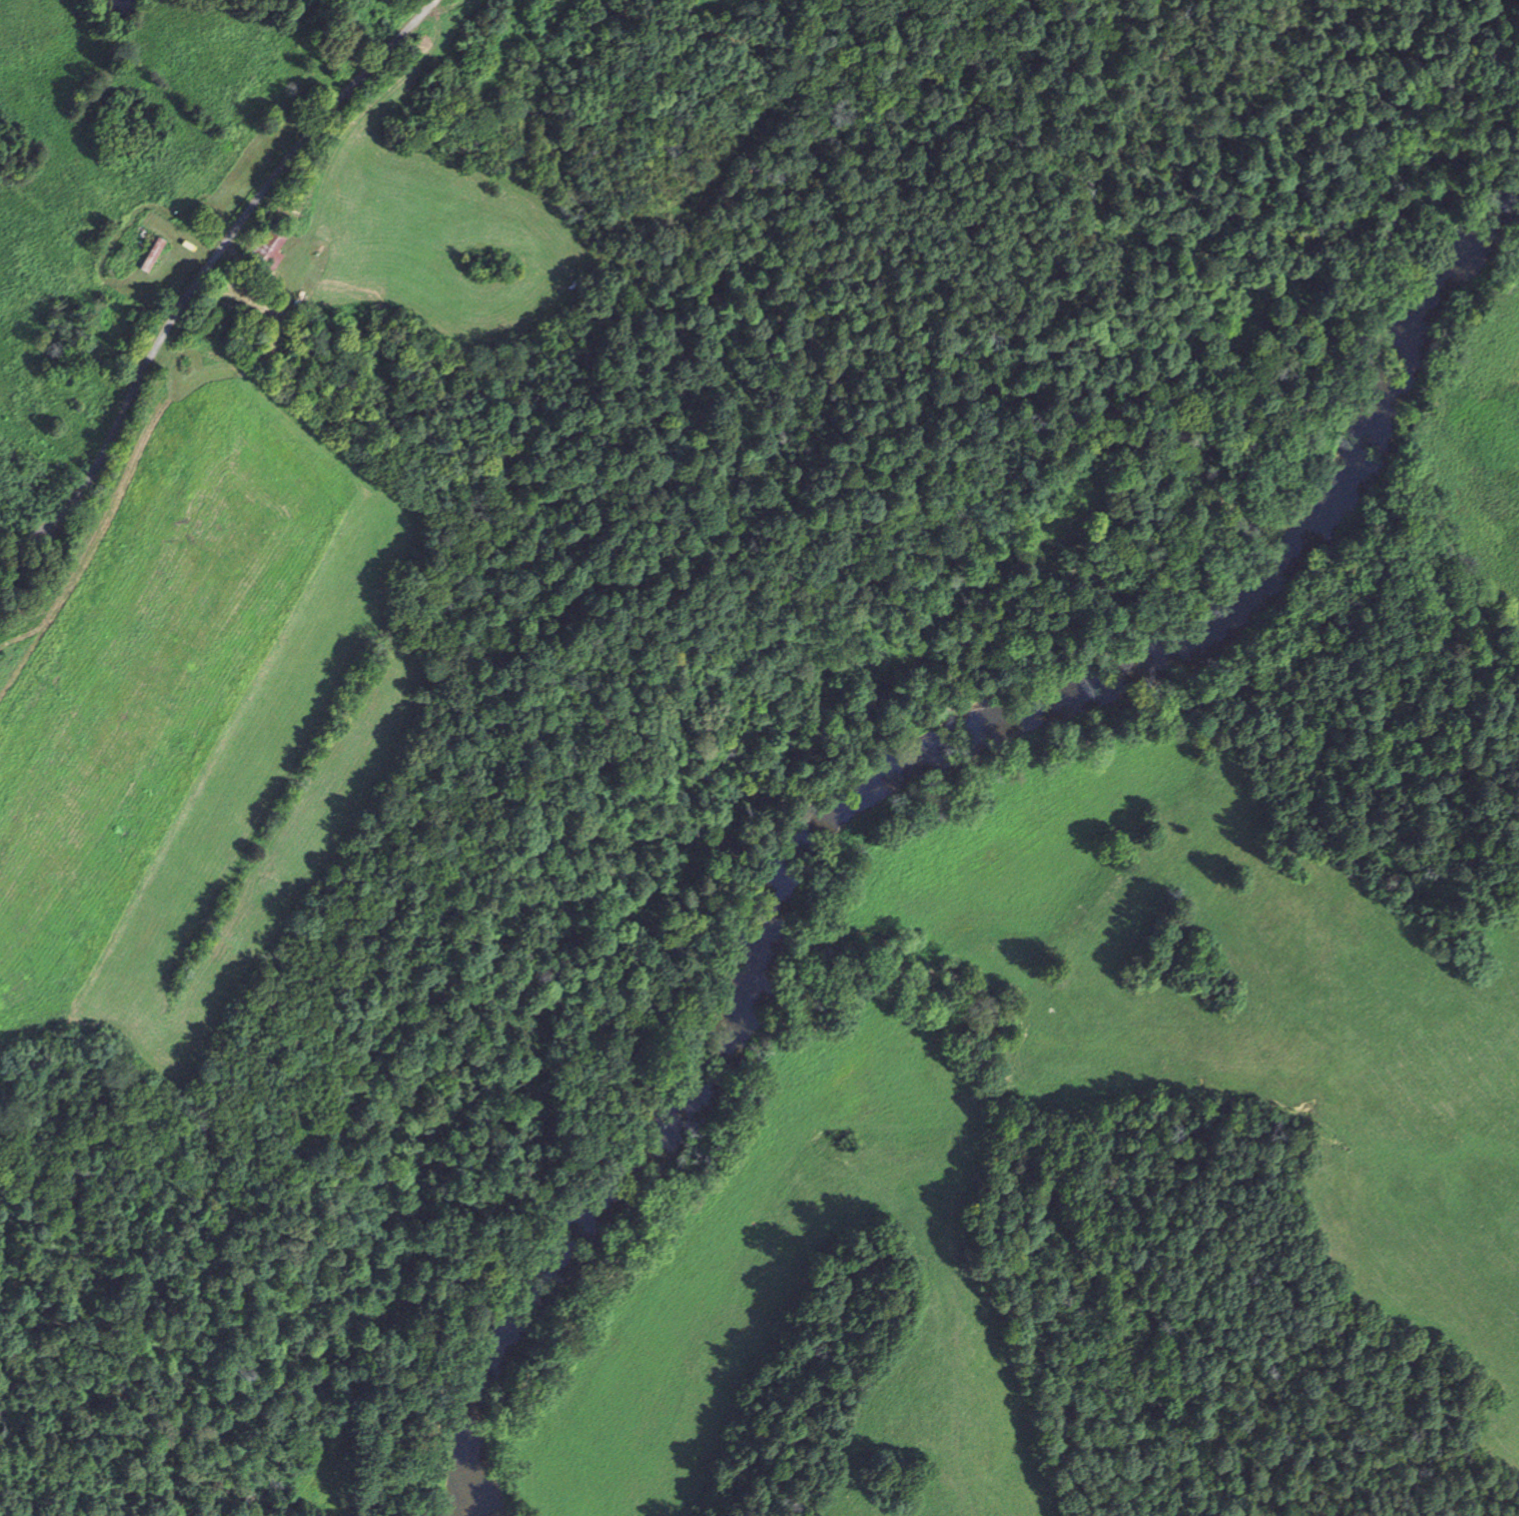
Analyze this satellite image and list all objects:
road: (208, 273)

